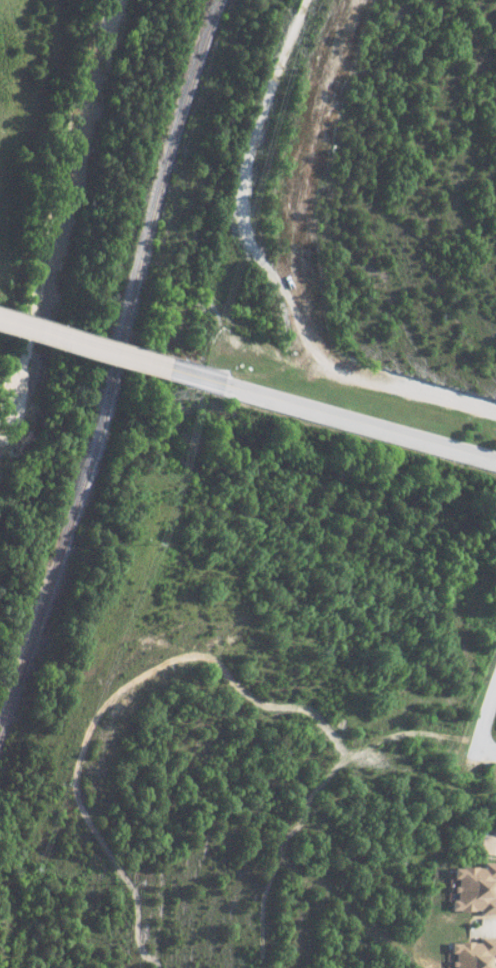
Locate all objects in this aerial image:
road: (74, 340)
railway: (113, 365)
road: (321, 409)
road: (483, 715)
building: (494, 827)
building: (473, 887)
building: (474, 953)

